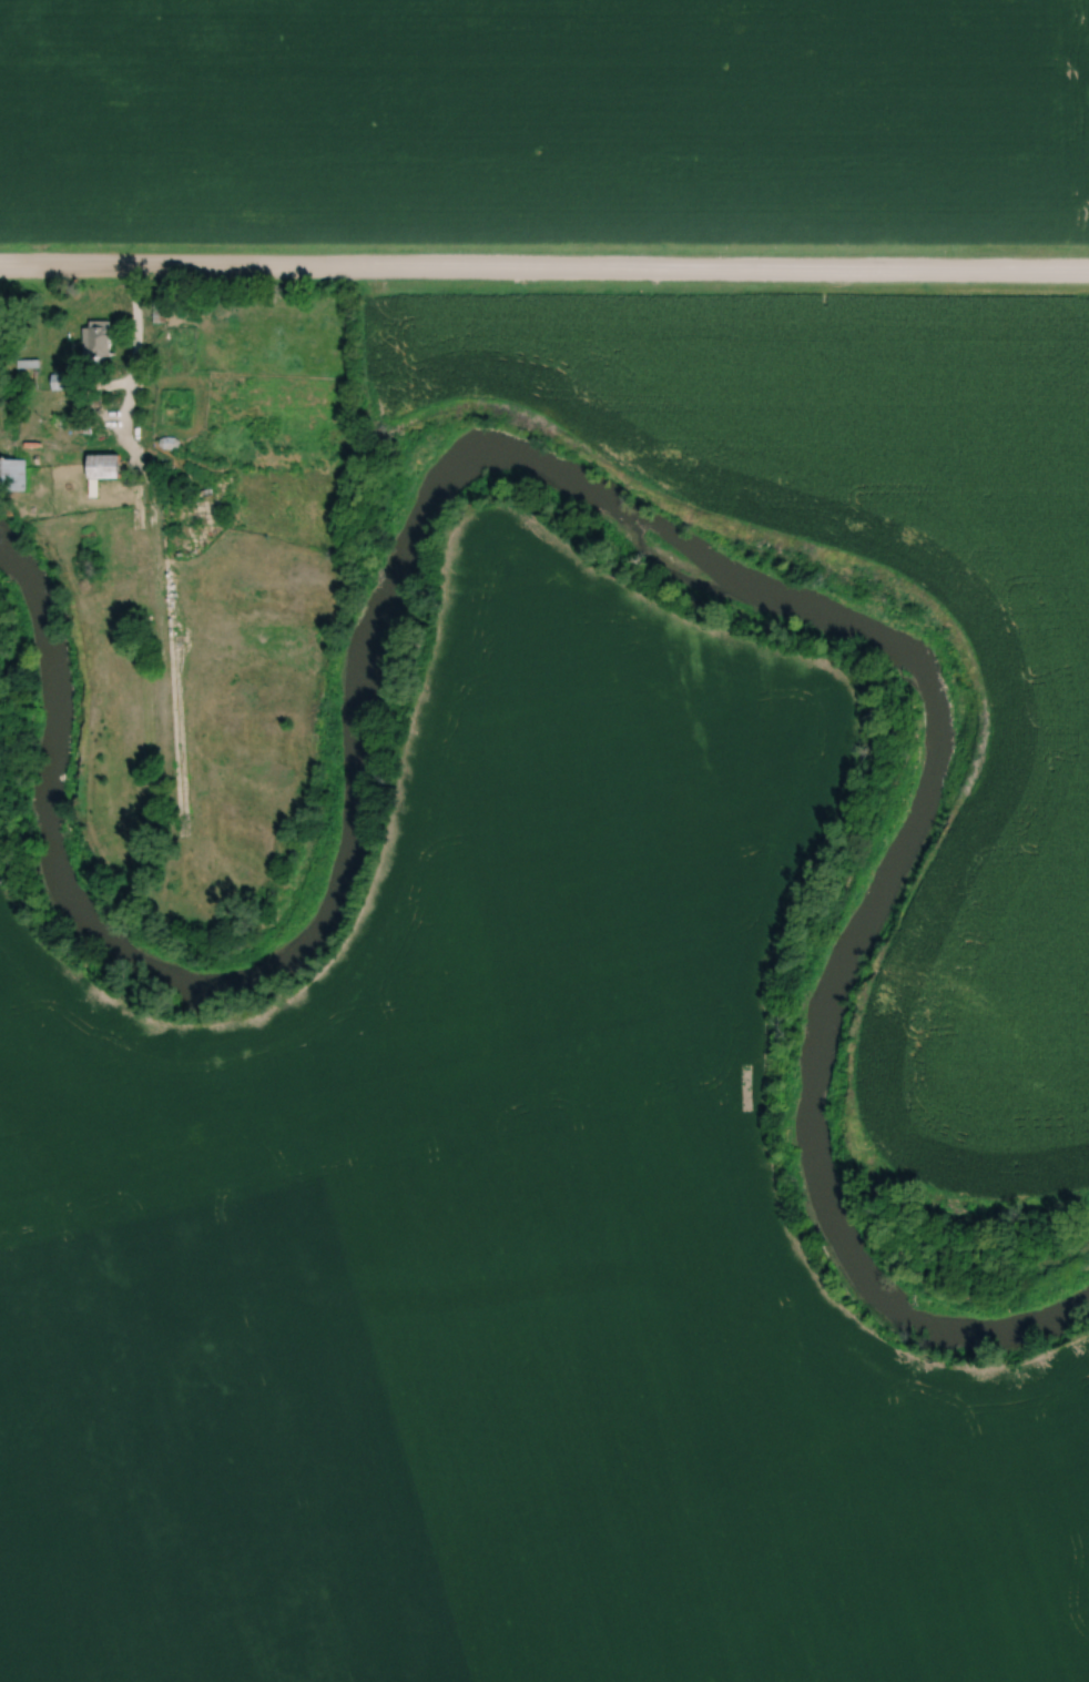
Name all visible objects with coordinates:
road: (543, 270)
road: (133, 324)
building: (99, 337)
building: (68, 381)
road: (124, 424)
building: (106, 464)
building: (14, 474)
river: (570, 510)

